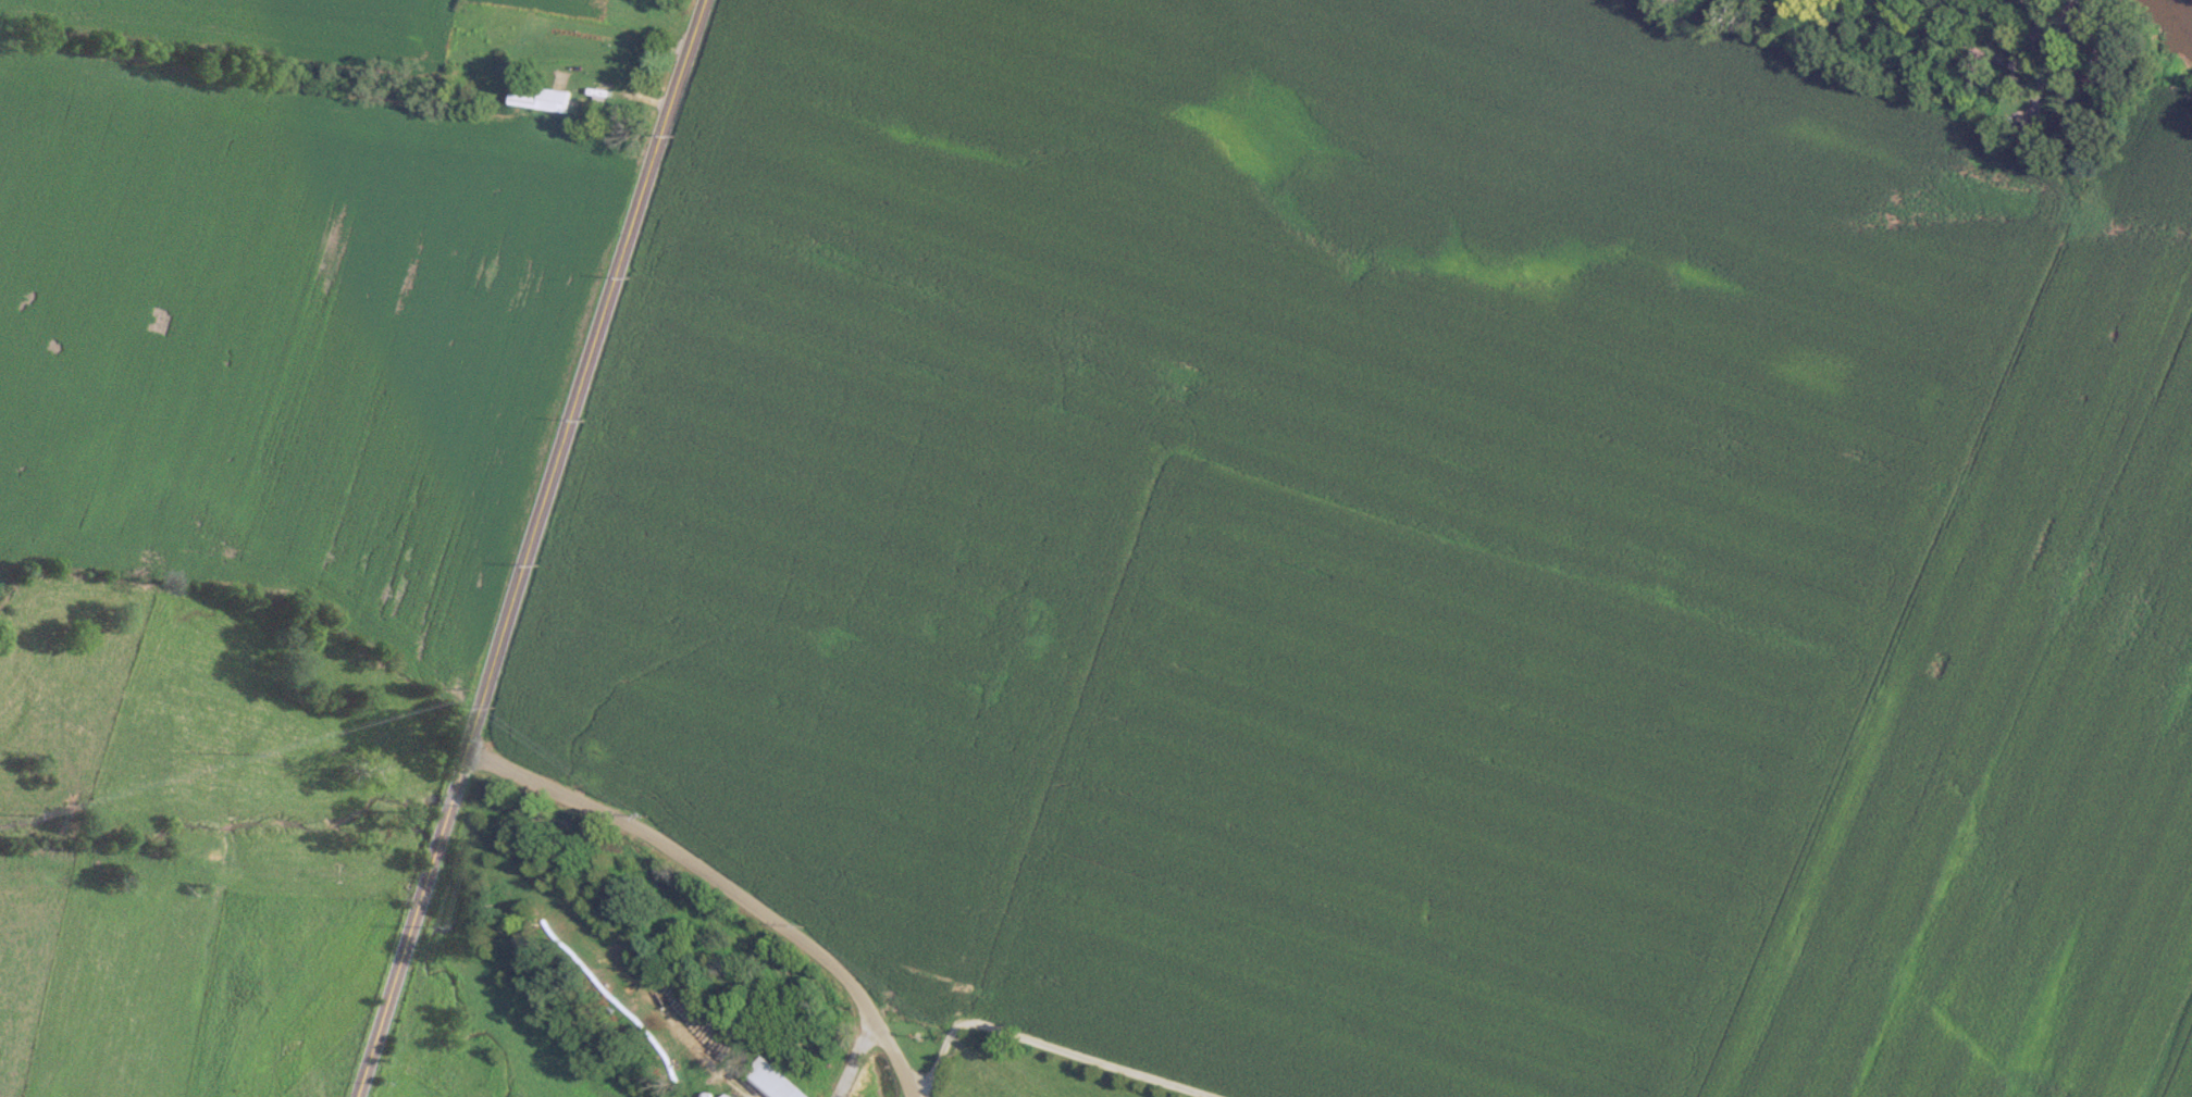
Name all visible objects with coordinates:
river: (2190, 0)
crop: (564, 5)
road: (1998, 62)
road: (640, 70)
building: (586, 98)
building: (545, 99)
building: (2019, 124)
crop: (1411, 261)
crop: (285, 319)
road: (528, 548)
crop: (825, 621)
crop: (2022, 718)
crop: (1405, 811)
road: (698, 863)
road: (857, 1060)
crop: (2177, 1061)
road: (897, 1068)
building: (769, 1080)
building: (725, 1095)

